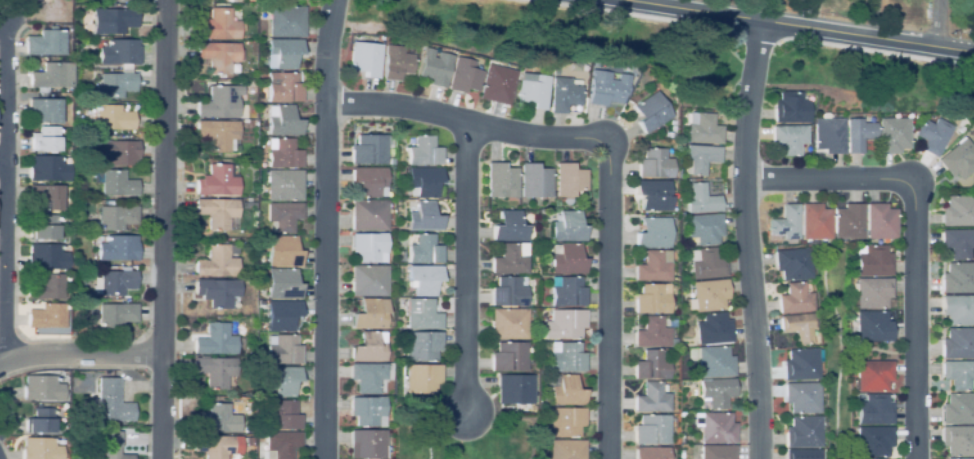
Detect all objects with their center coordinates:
road: (665, 3)
building: (80, 10)
building: (118, 20)
building: (286, 21)
road: (938, 23)
building: (218, 25)
road: (801, 25)
building: (47, 42)
building: (120, 52)
building: (285, 52)
building: (219, 56)
building: (365, 59)
building: (396, 63)
building: (435, 68)
building: (53, 76)
building: (465, 76)
building: (497, 84)
building: (114, 85)
building: (283, 87)
building: (607, 88)
building: (533, 90)
building: (565, 94)
building: (259, 102)
building: (218, 103)
building: (791, 108)
building: (44, 110)
building: (652, 111)
building: (113, 117)
building: (253, 118)
building: (244, 121)
building: (283, 122)
building: (672, 122)
road: (467, 124)
building: (672, 128)
building: (701, 128)
building: (962, 130)
building: (218, 134)
building: (858, 134)
building: (669, 135)
building: (829, 135)
building: (893, 135)
building: (933, 135)
building: (789, 138)
building: (45, 139)
building: (369, 149)
building: (118, 151)
building: (424, 152)
building: (283, 153)
building: (699, 158)
building: (958, 159)
road: (4, 161)
building: (655, 164)
building: (47, 168)
building: (569, 179)
building: (501, 180)
road: (828, 180)
building: (217, 181)
building: (369, 181)
building: (534, 181)
building: (114, 182)
building: (422, 182)
building: (284, 185)
road: (7, 191)
building: (653, 195)
building: (45, 196)
building: (699, 198)
building: (248, 199)
building: (79, 207)
building: (958, 211)
building: (216, 212)
building: (368, 215)
building: (282, 216)
building: (116, 217)
building: (423, 217)
building: (880, 221)
building: (848, 222)
building: (815, 223)
building: (785, 224)
building: (42, 227)
building: (508, 227)
building: (567, 227)
building: (390, 228)
road: (163, 229)
road: (325, 229)
building: (703, 229)
building: (653, 233)
road: (749, 238)
building: (958, 243)
building: (368, 247)
building: (114, 248)
building: (423, 250)
building: (281, 251)
building: (46, 257)
building: (566, 259)
building: (509, 260)
building: (873, 261)
building: (216, 262)
building: (705, 264)
building: (793, 264)
building: (653, 266)
road: (467, 268)
building: (958, 278)
building: (423, 279)
building: (367, 280)
building: (114, 282)
building: (282, 284)
building: (47, 287)
building: (217, 291)
building: (507, 292)
building: (566, 292)
building: (872, 292)
building: (708, 294)
building: (652, 299)
building: (795, 299)
road: (610, 303)
building: (958, 309)
building: (370, 314)
building: (421, 314)
building: (116, 315)
building: (281, 315)
building: (47, 316)
road: (916, 322)
building: (508, 324)
building: (564, 324)
building: (872, 326)
building: (801, 328)
building: (713, 329)
building: (258, 331)
building: (652, 333)
building: (215, 340)
building: (958, 343)
building: (422, 346)
building: (368, 348)
building: (282, 350)
road: (80, 354)
building: (508, 357)
building: (566, 357)
building: (712, 361)
building: (801, 364)
building: (651, 366)
building: (215, 370)
building: (957, 374)
building: (873, 375)
building: (367, 377)
building: (422, 378)
building: (282, 380)
building: (42, 388)
building: (515, 388)
building: (565, 390)
building: (715, 392)
building: (802, 397)
building: (652, 398)
building: (109, 402)
building: (958, 409)
building: (367, 410)
building: (874, 410)
building: (280, 414)
building: (213, 419)
building: (40, 421)
building: (565, 422)
building: (124, 424)
building: (716, 428)
building: (652, 429)
building: (803, 432)
building: (259, 435)
building: (958, 440)
building: (873, 441)
building: (280, 444)
building: (367, 444)
building: (113, 446)
building: (217, 446)
building: (40, 449)
building: (566, 449)
building: (717, 452)
building: (651, 453)
building: (803, 454)
building: (962, 458)

